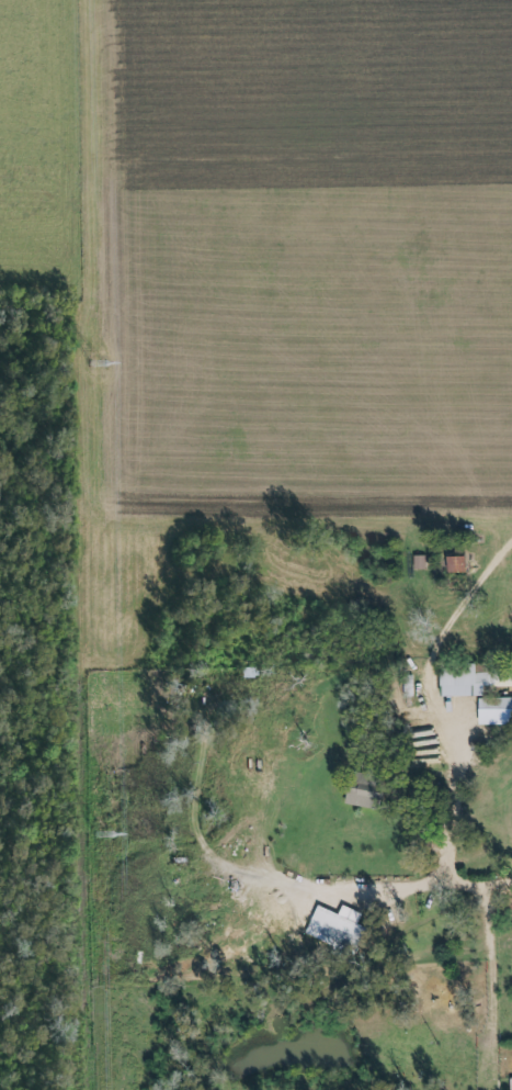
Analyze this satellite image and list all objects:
power tower: (98, 361)
building: (420, 563)
building: (462, 565)
road: (463, 606)
building: (249, 673)
building: (471, 682)
building: (497, 712)
building: (366, 794)
power tower: (104, 834)
road: (470, 886)
road: (297, 890)
building: (340, 929)
road: (488, 963)

